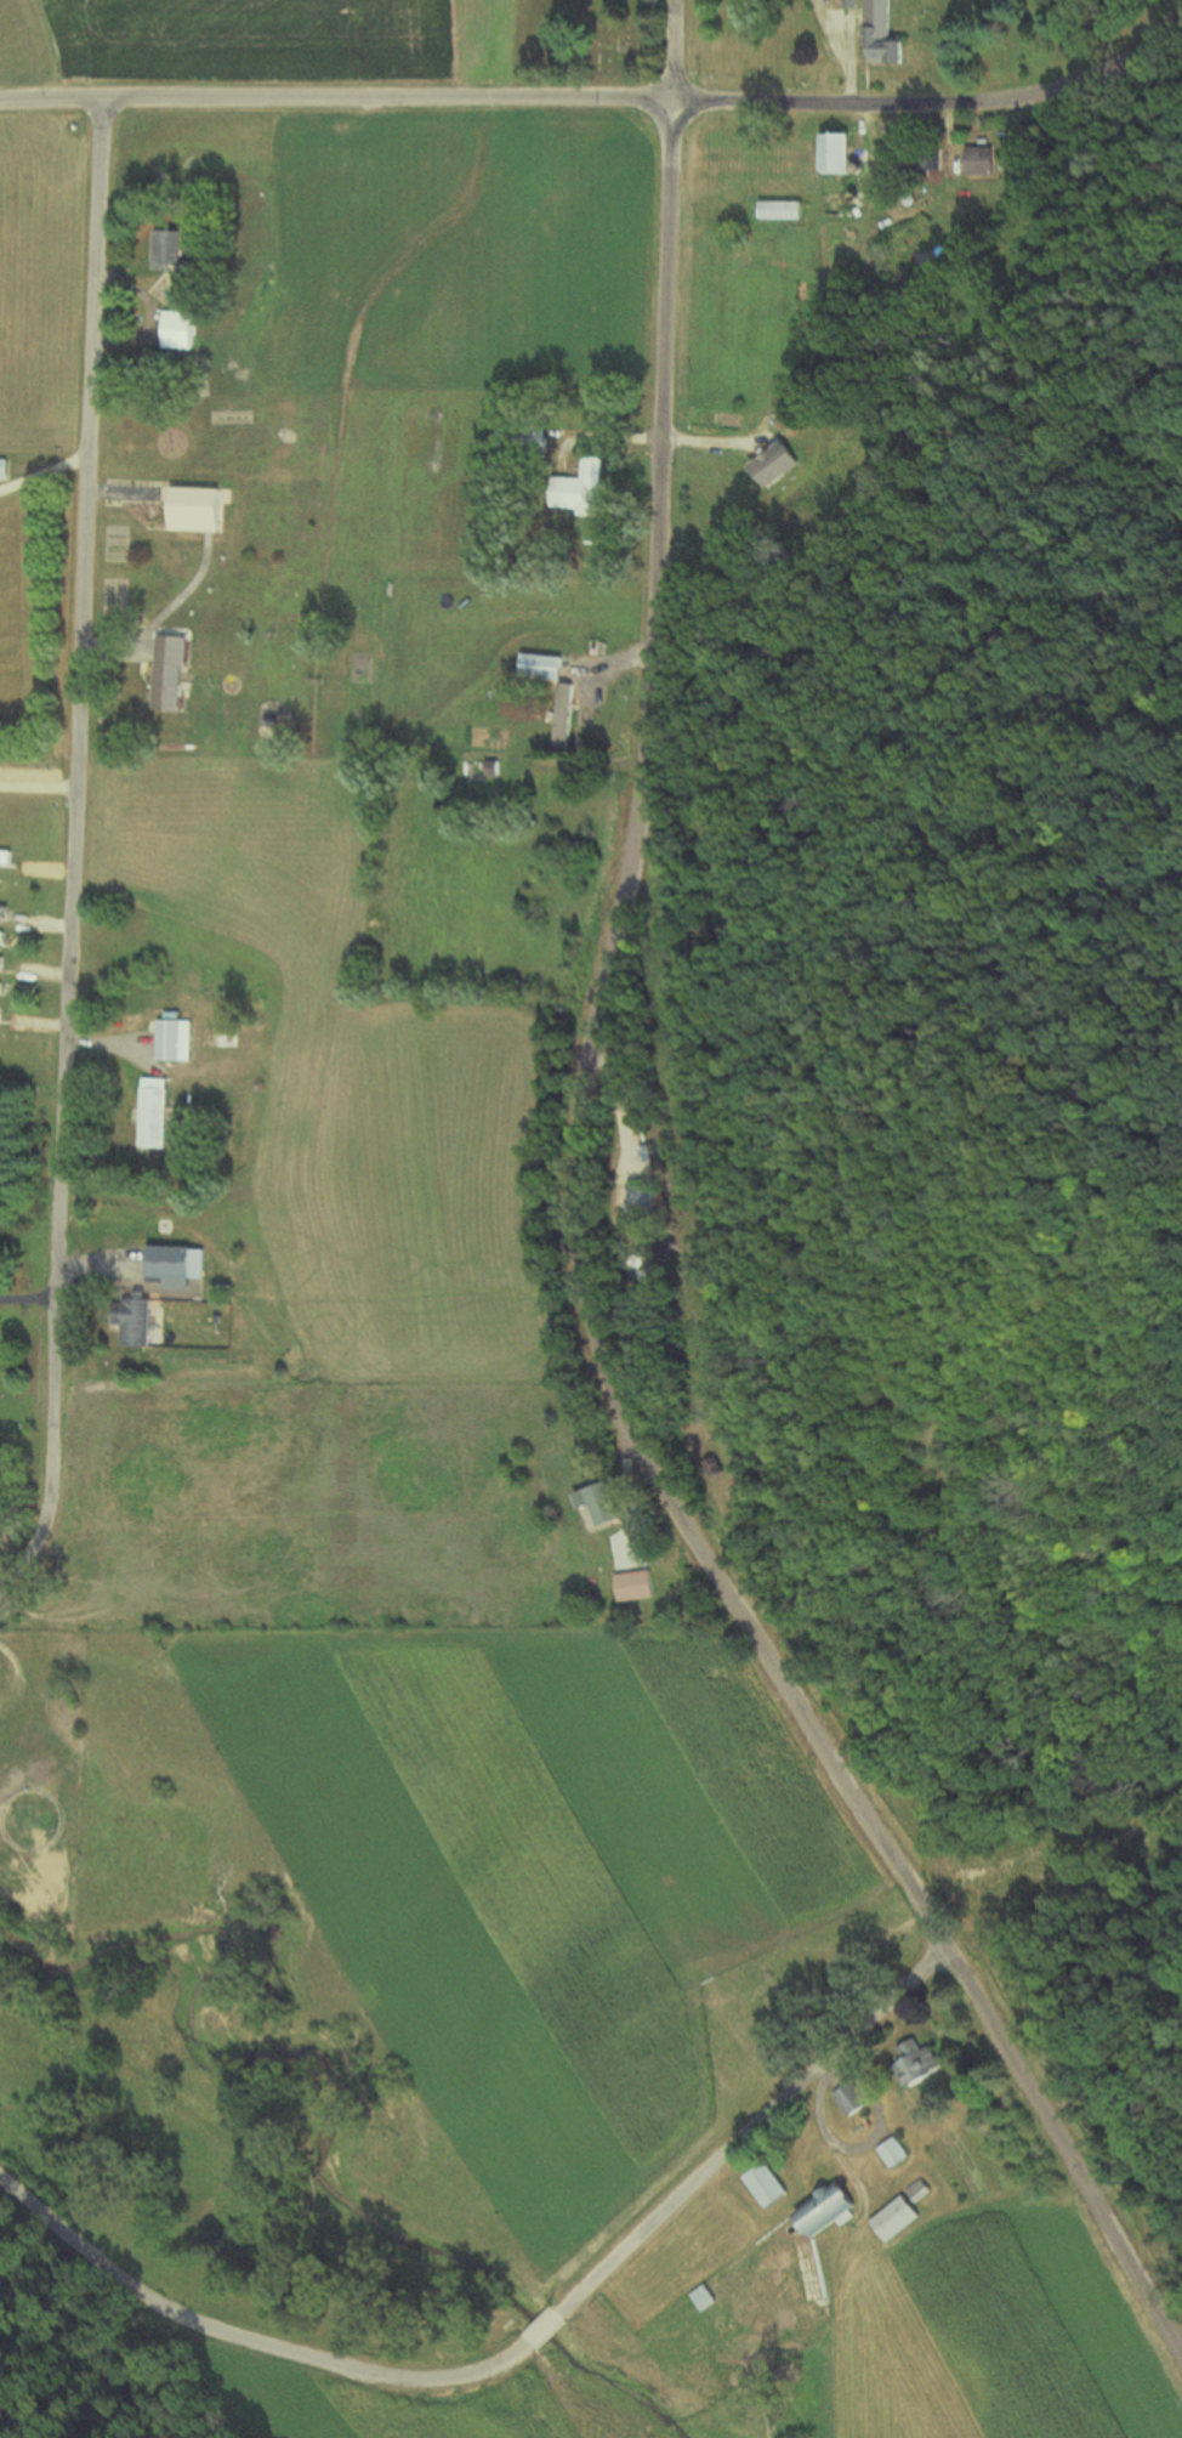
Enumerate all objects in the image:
park: (585, 42)
road: (671, 53)
road: (335, 106)
road: (934, 107)
road: (36, 787)
road: (70, 854)
road: (590, 1308)
road: (521, 2347)

